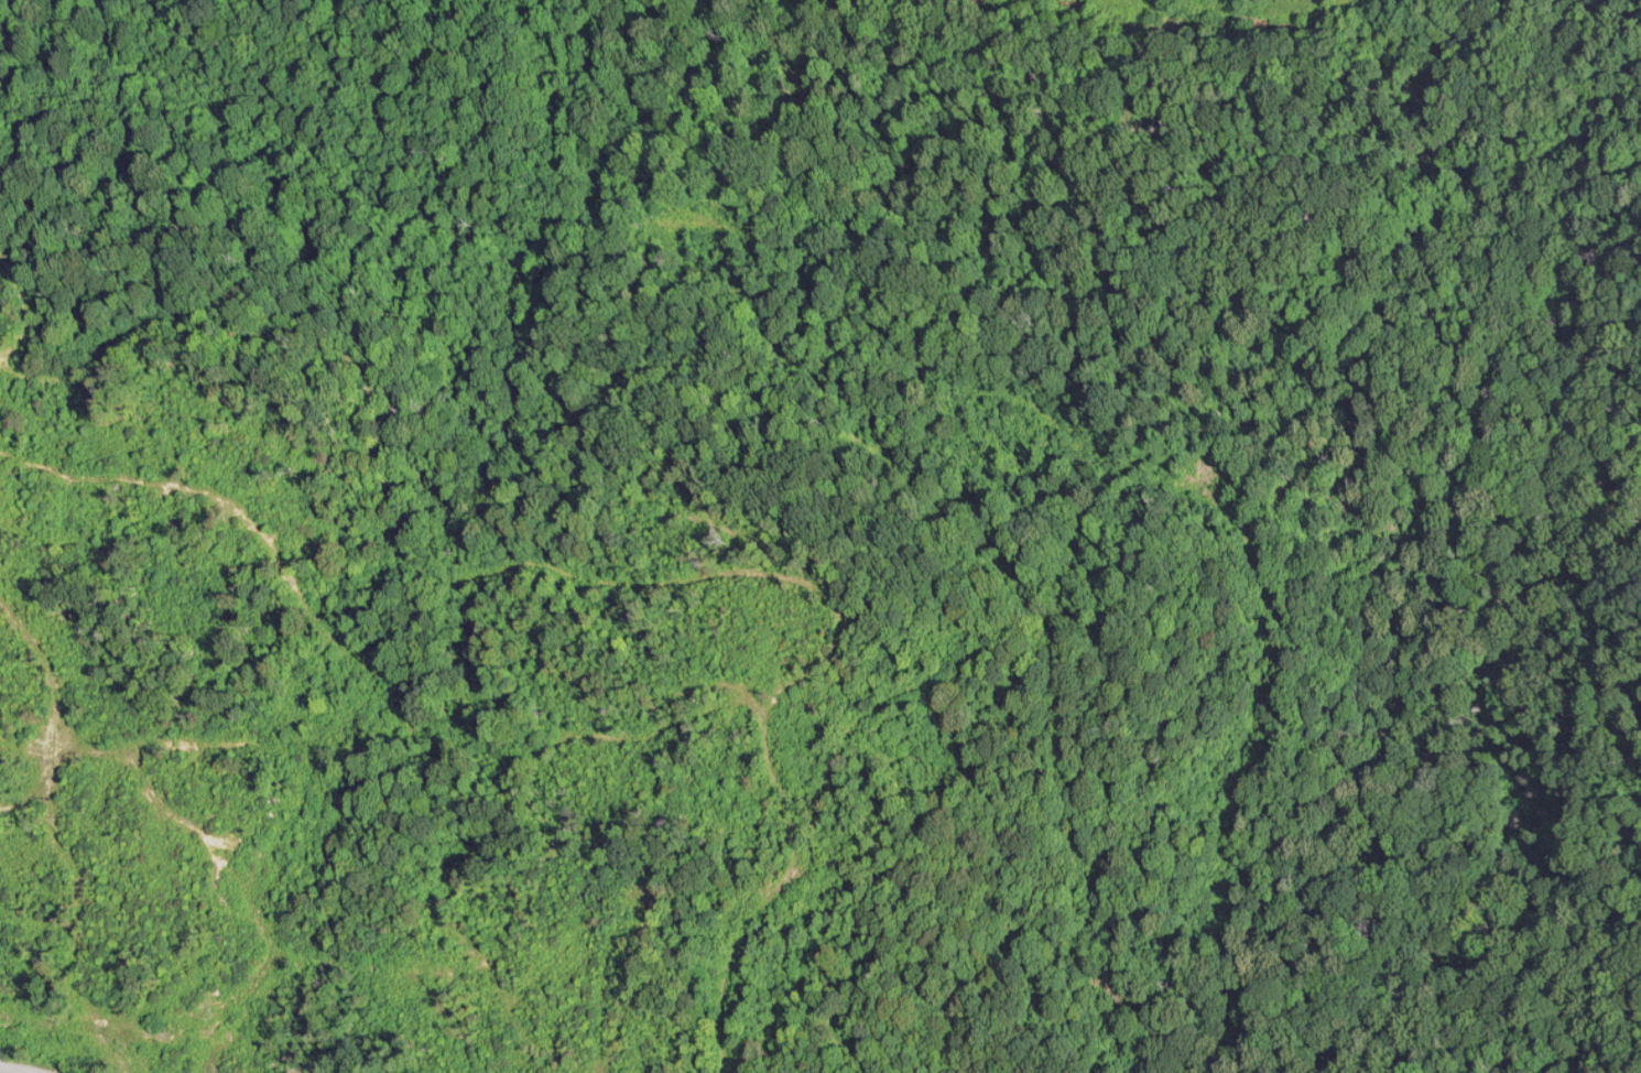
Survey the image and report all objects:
road: (10, 1069)

